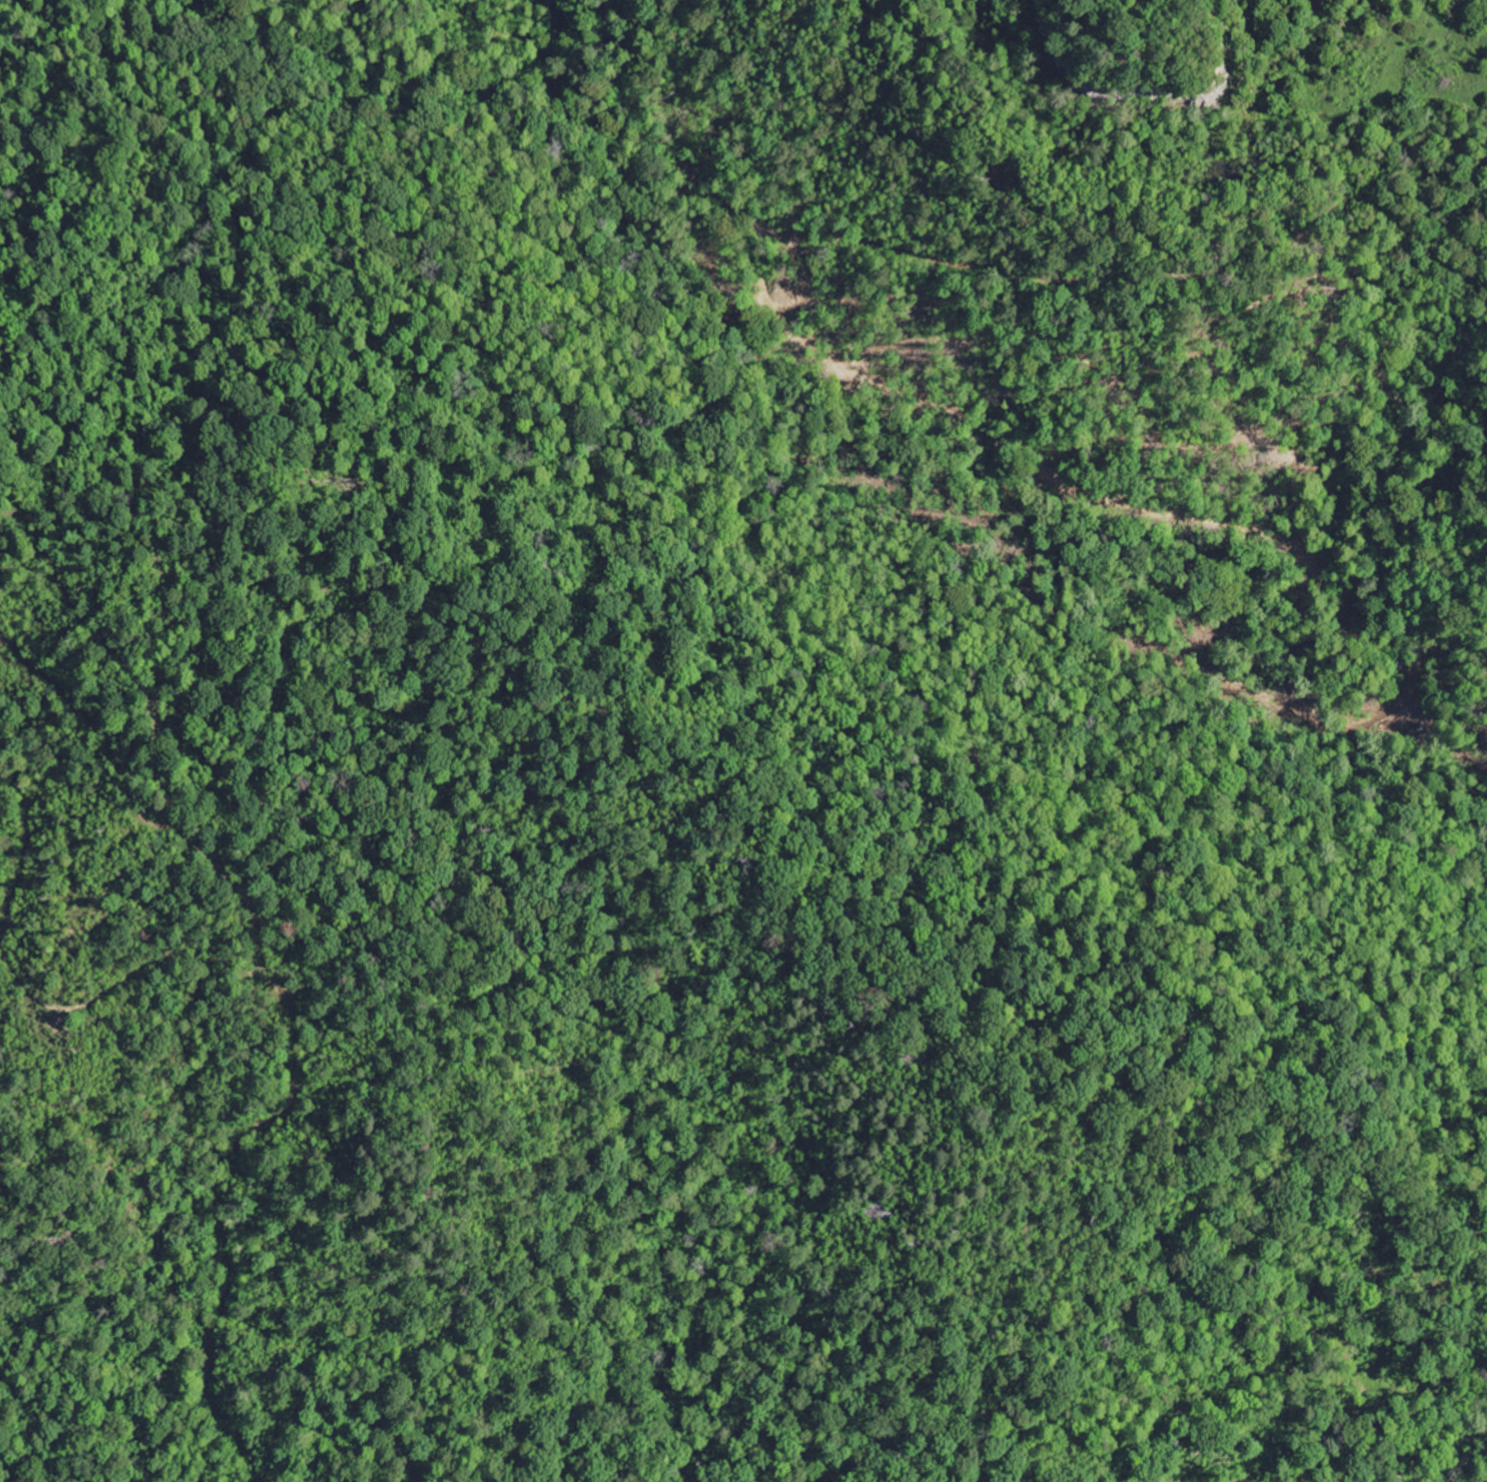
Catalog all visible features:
road: (1440, 1465)

